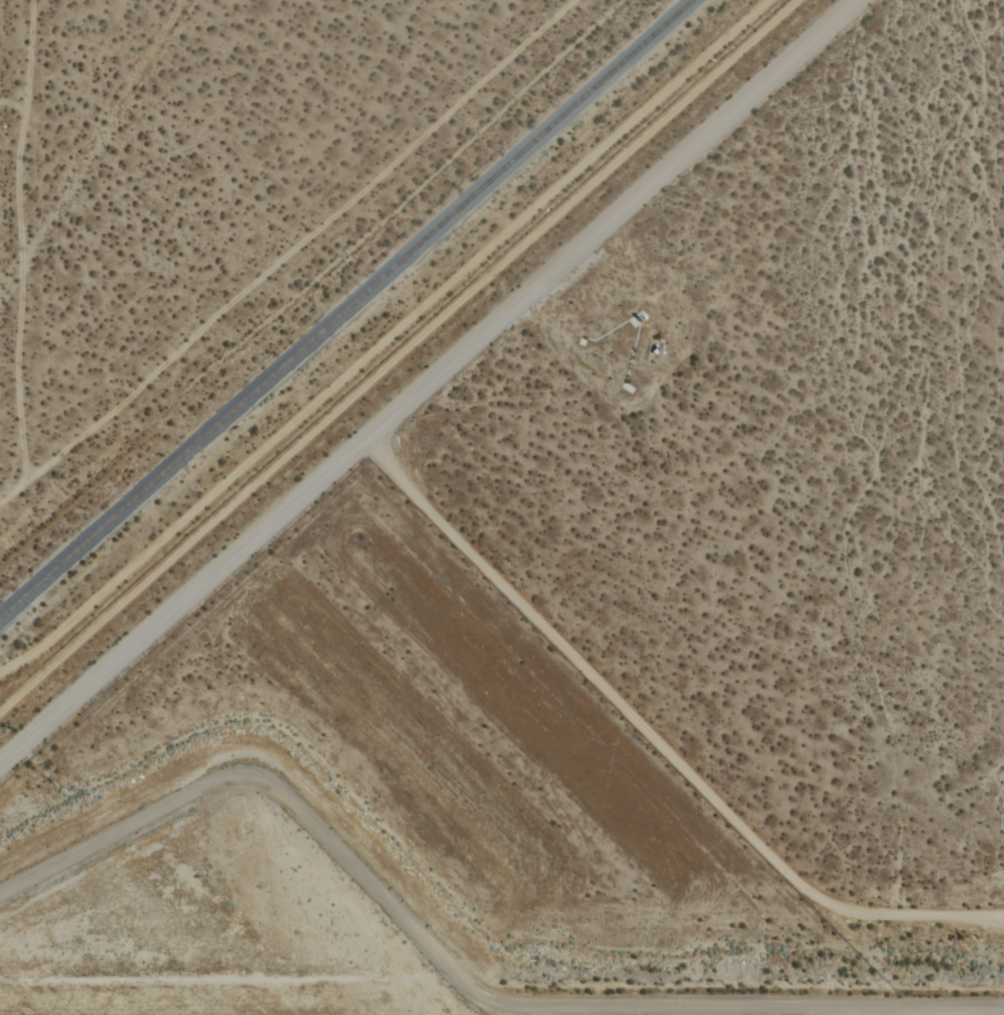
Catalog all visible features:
railway: (345, 306)
building: (637, 315)
road: (428, 382)
airport: (590, 609)
road: (657, 732)
road: (454, 969)

